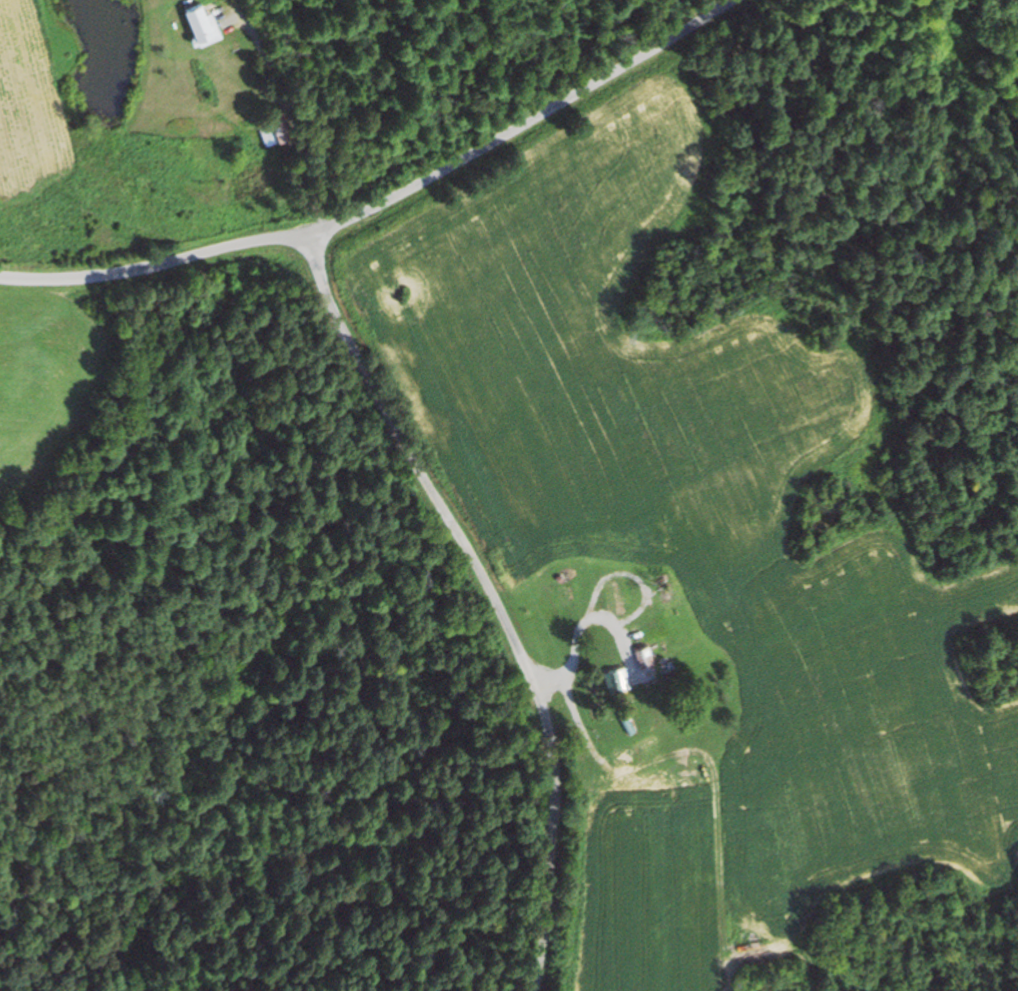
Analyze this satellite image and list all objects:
road: (473, 74)
road: (387, 200)
road: (495, 595)

